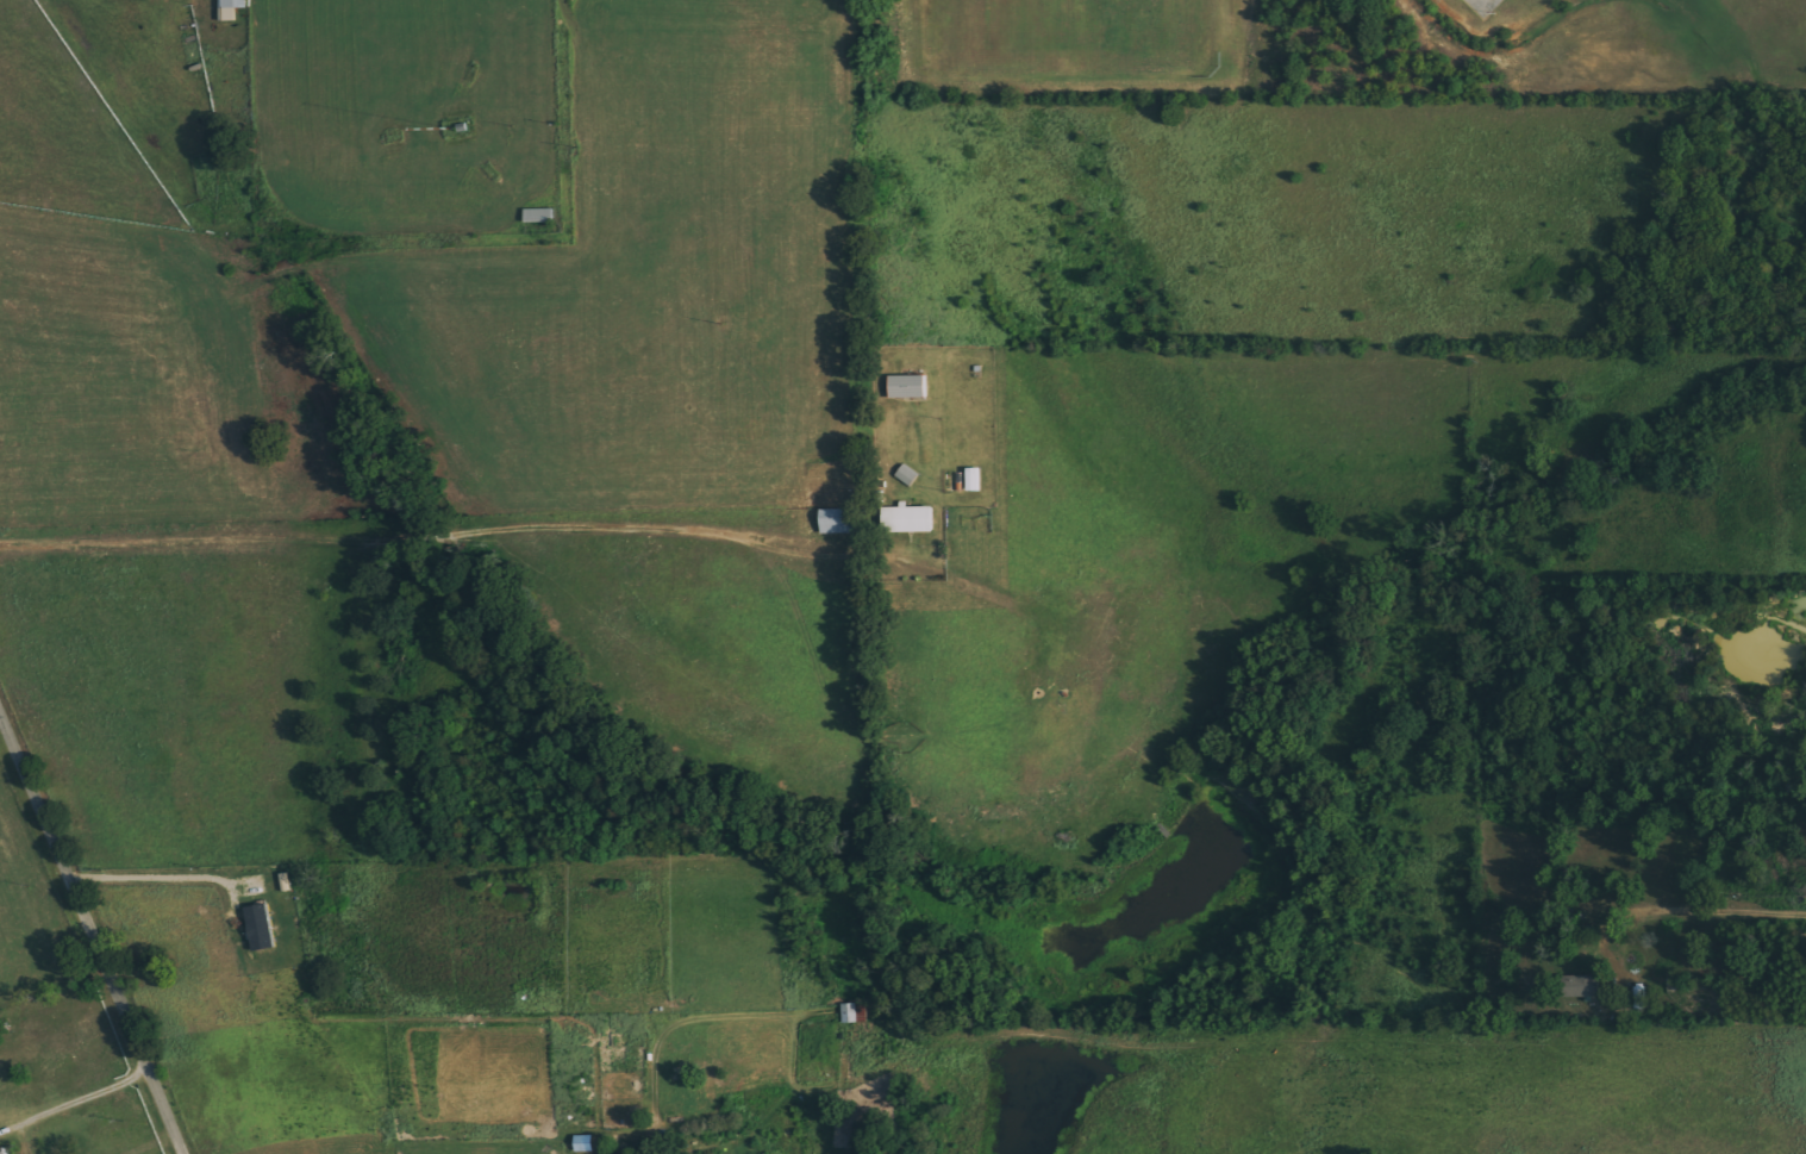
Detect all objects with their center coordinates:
building: (230, 8)
building: (539, 216)
building: (908, 387)
building: (907, 476)
building: (975, 479)
building: (910, 519)
building: (839, 520)
building: (261, 928)
road: (89, 938)
building: (1583, 986)
building: (1639, 998)
building: (855, 1012)
building: (2, 1152)

